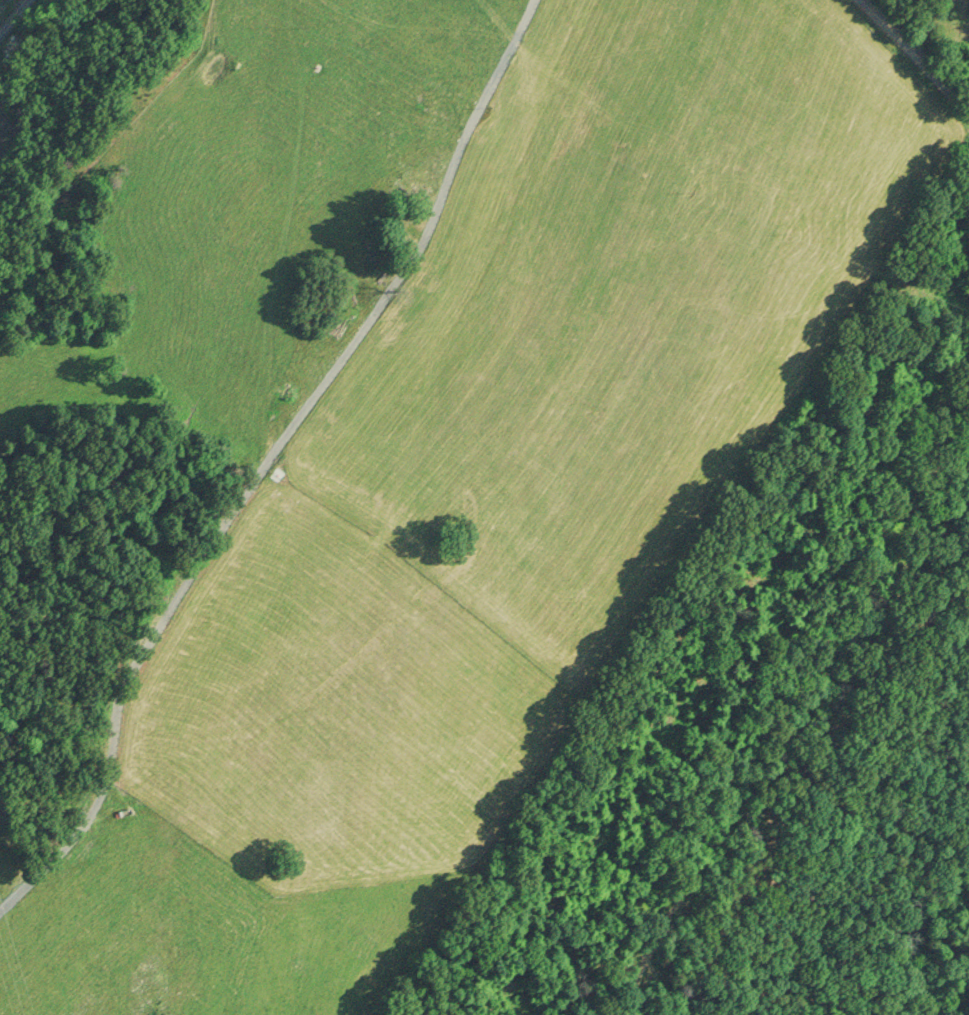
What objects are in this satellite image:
road: (14, 16)
road: (919, 44)
road: (253, 463)

